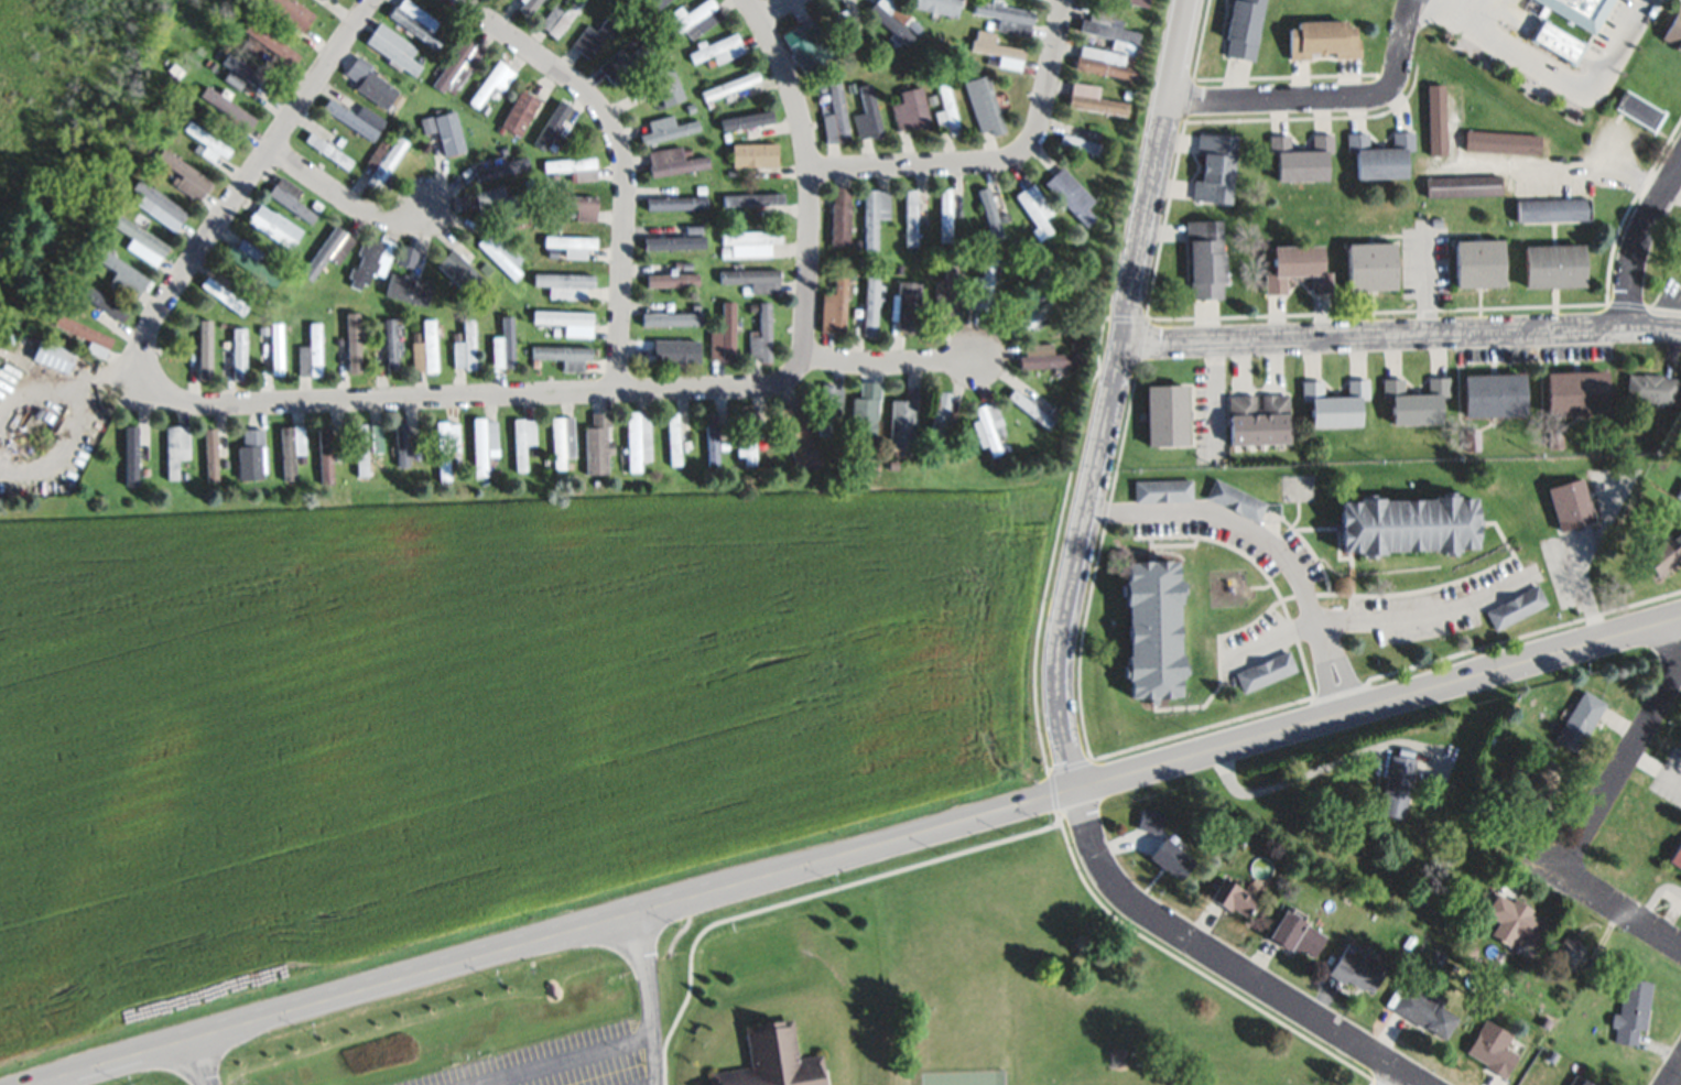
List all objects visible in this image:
building: (1108, 0)
building: (313, 1)
road: (1442, 1)
building: (1137, 2)
building: (649, 4)
building: (527, 6)
building: (939, 6)
road: (772, 9)
building: (290, 11)
building: (599, 13)
building: (558, 15)
building: (693, 15)
building: (1006, 15)
building: (893, 19)
building: (416, 21)
building: (881, 25)
building: (1244, 26)
building: (1110, 30)
building: (1673, 31)
building: (849, 32)
building: (593, 34)
building: (1322, 37)
building: (270, 41)
building: (632, 42)
building: (993, 44)
building: (251, 45)
building: (807, 45)
building: (408, 48)
building: (718, 50)
building: (392, 53)
building: (626, 61)
building: (1105, 61)
building: (214, 63)
building: (458, 64)
building: (833, 67)
building: (249, 77)
building: (492, 80)
building: (641, 84)
building: (729, 84)
building: (231, 85)
building: (668, 85)
building: (852, 87)
building: (371, 89)
road: (1560, 89)
building: (1127, 93)
building: (932, 98)
building: (1093, 98)
road: (1325, 98)
building: (984, 104)
building: (709, 105)
building: (691, 107)
building: (911, 108)
building: (1637, 108)
building: (484, 109)
building: (946, 109)
building: (519, 111)
building: (835, 113)
building: (867, 113)
building: (229, 115)
building: (349, 118)
building: (1435, 118)
building: (747, 121)
building: (427, 122)
building: (550, 126)
building: (664, 128)
building: (448, 131)
building: (1500, 140)
building: (1082, 144)
building: (206, 147)
building: (327, 149)
building: (503, 150)
building: (1380, 153)
building: (753, 154)
building: (1301, 156)
building: (384, 158)
road: (625, 159)
building: (673, 160)
road: (997, 161)
building: (1214, 165)
building: (501, 167)
building: (574, 167)
road: (811, 172)
building: (731, 173)
building: (182, 177)
building: (113, 178)
building: (529, 182)
building: (1462, 184)
building: (673, 189)
building: (1071, 194)
road: (343, 197)
building: (498, 199)
building: (753, 199)
building: (676, 202)
building: (291, 203)
building: (575, 204)
building: (158, 207)
building: (1551, 208)
building: (1034, 209)
building: (731, 211)
building: (945, 211)
building: (959, 211)
building: (107, 213)
building: (875, 213)
building: (839, 214)
building: (911, 214)
building: (985, 214)
building: (991, 215)
building: (940, 217)
building: (1051, 218)
building: (922, 219)
building: (1435, 220)
building: (274, 225)
building: (682, 227)
building: (673, 240)
building: (750, 240)
building: (570, 242)
road: (1639, 242)
building: (141, 243)
building: (858, 243)
building: (330, 250)
building: (500, 251)
building: (724, 251)
building: (552, 252)
building: (1679, 256)
building: (1204, 257)
building: (250, 260)
building: (861, 262)
building: (1476, 262)
building: (1679, 262)
building: (686, 264)
building: (1553, 264)
building: (366, 265)
building: (1370, 265)
building: (1298, 267)
building: (898, 268)
building: (488, 269)
building: (460, 270)
building: (121, 275)
building: (752, 279)
building: (672, 280)
building: (564, 283)
building: (983, 284)
building: (947, 289)
building: (402, 291)
building: (739, 291)
building: (225, 295)
building: (99, 302)
building: (904, 302)
building: (835, 304)
building: (870, 304)
building: (694, 306)
building: (1030, 313)
building: (561, 316)
building: (670, 318)
building: (262, 328)
building: (80, 329)
building: (761, 333)
building: (723, 335)
road: (1401, 335)
building: (377, 337)
building: (69, 339)
building: (338, 340)
building: (390, 343)
building: (502, 343)
building: (425, 345)
building: (464, 345)
building: (1073, 345)
building: (353, 347)
building: (199, 350)
building: (275, 350)
building: (239, 351)
building: (636, 352)
building: (562, 354)
building: (662, 355)
building: (310, 356)
building: (1045, 356)
building: (51, 360)
road: (894, 362)
building: (1651, 387)
building: (1575, 390)
building: (1493, 394)
building: (1416, 399)
road: (256, 403)
building: (1335, 403)
building: (827, 405)
building: (1030, 408)
building: (837, 410)
building: (1053, 411)
building: (877, 412)
building: (1165, 413)
building: (863, 415)
building: (934, 416)
building: (940, 419)
building: (1258, 419)
building: (901, 422)
building: (1680, 422)
building: (989, 425)
building: (1000, 428)
building: (1554, 434)
building: (712, 436)
building: (674, 437)
building: (798, 437)
building: (1472, 437)
building: (562, 440)
building: (636, 440)
building: (747, 440)
building: (482, 441)
building: (522, 441)
building: (668, 441)
building: (706, 441)
building: (408, 444)
building: (445, 446)
building: (596, 448)
building: (175, 449)
building: (532, 451)
building: (359, 452)
building: (290, 453)
building: (366, 453)
building: (210, 454)
building: (324, 457)
building: (249, 458)
building: (224, 460)
building: (888, 462)
building: (1658, 465)
building: (1162, 489)
building: (1679, 493)
building: (1236, 499)
building: (1570, 502)
building: (1408, 522)
road: (1270, 546)
building: (1662, 553)
building: (1516, 606)
road: (1419, 614)
road: (1066, 625)
building: (1153, 627)
building: (1267, 671)
building: (1579, 718)
building: (1427, 762)
road: (1620, 770)
road: (1304, 771)
building: (1539, 783)
building: (1396, 784)
building: (1150, 818)
road: (855, 853)
building: (1674, 856)
building: (1172, 859)
building: (1233, 896)
road: (1607, 903)
building: (1512, 919)
building: (1295, 933)
building: (1409, 942)
building: (1467, 947)
building: (1566, 951)
building: (1440, 956)
building: (1358, 966)
road: (651, 998)
building: (1422, 1009)
building: (1630, 1009)
building: (1490, 1048)
building: (1552, 1054)
road: (562, 1059)
building: (766, 1060)
road: (195, 1062)
road: (1395, 1077)
road: (1677, 1077)
park: (956, 1078)
building: (1577, 1079)

